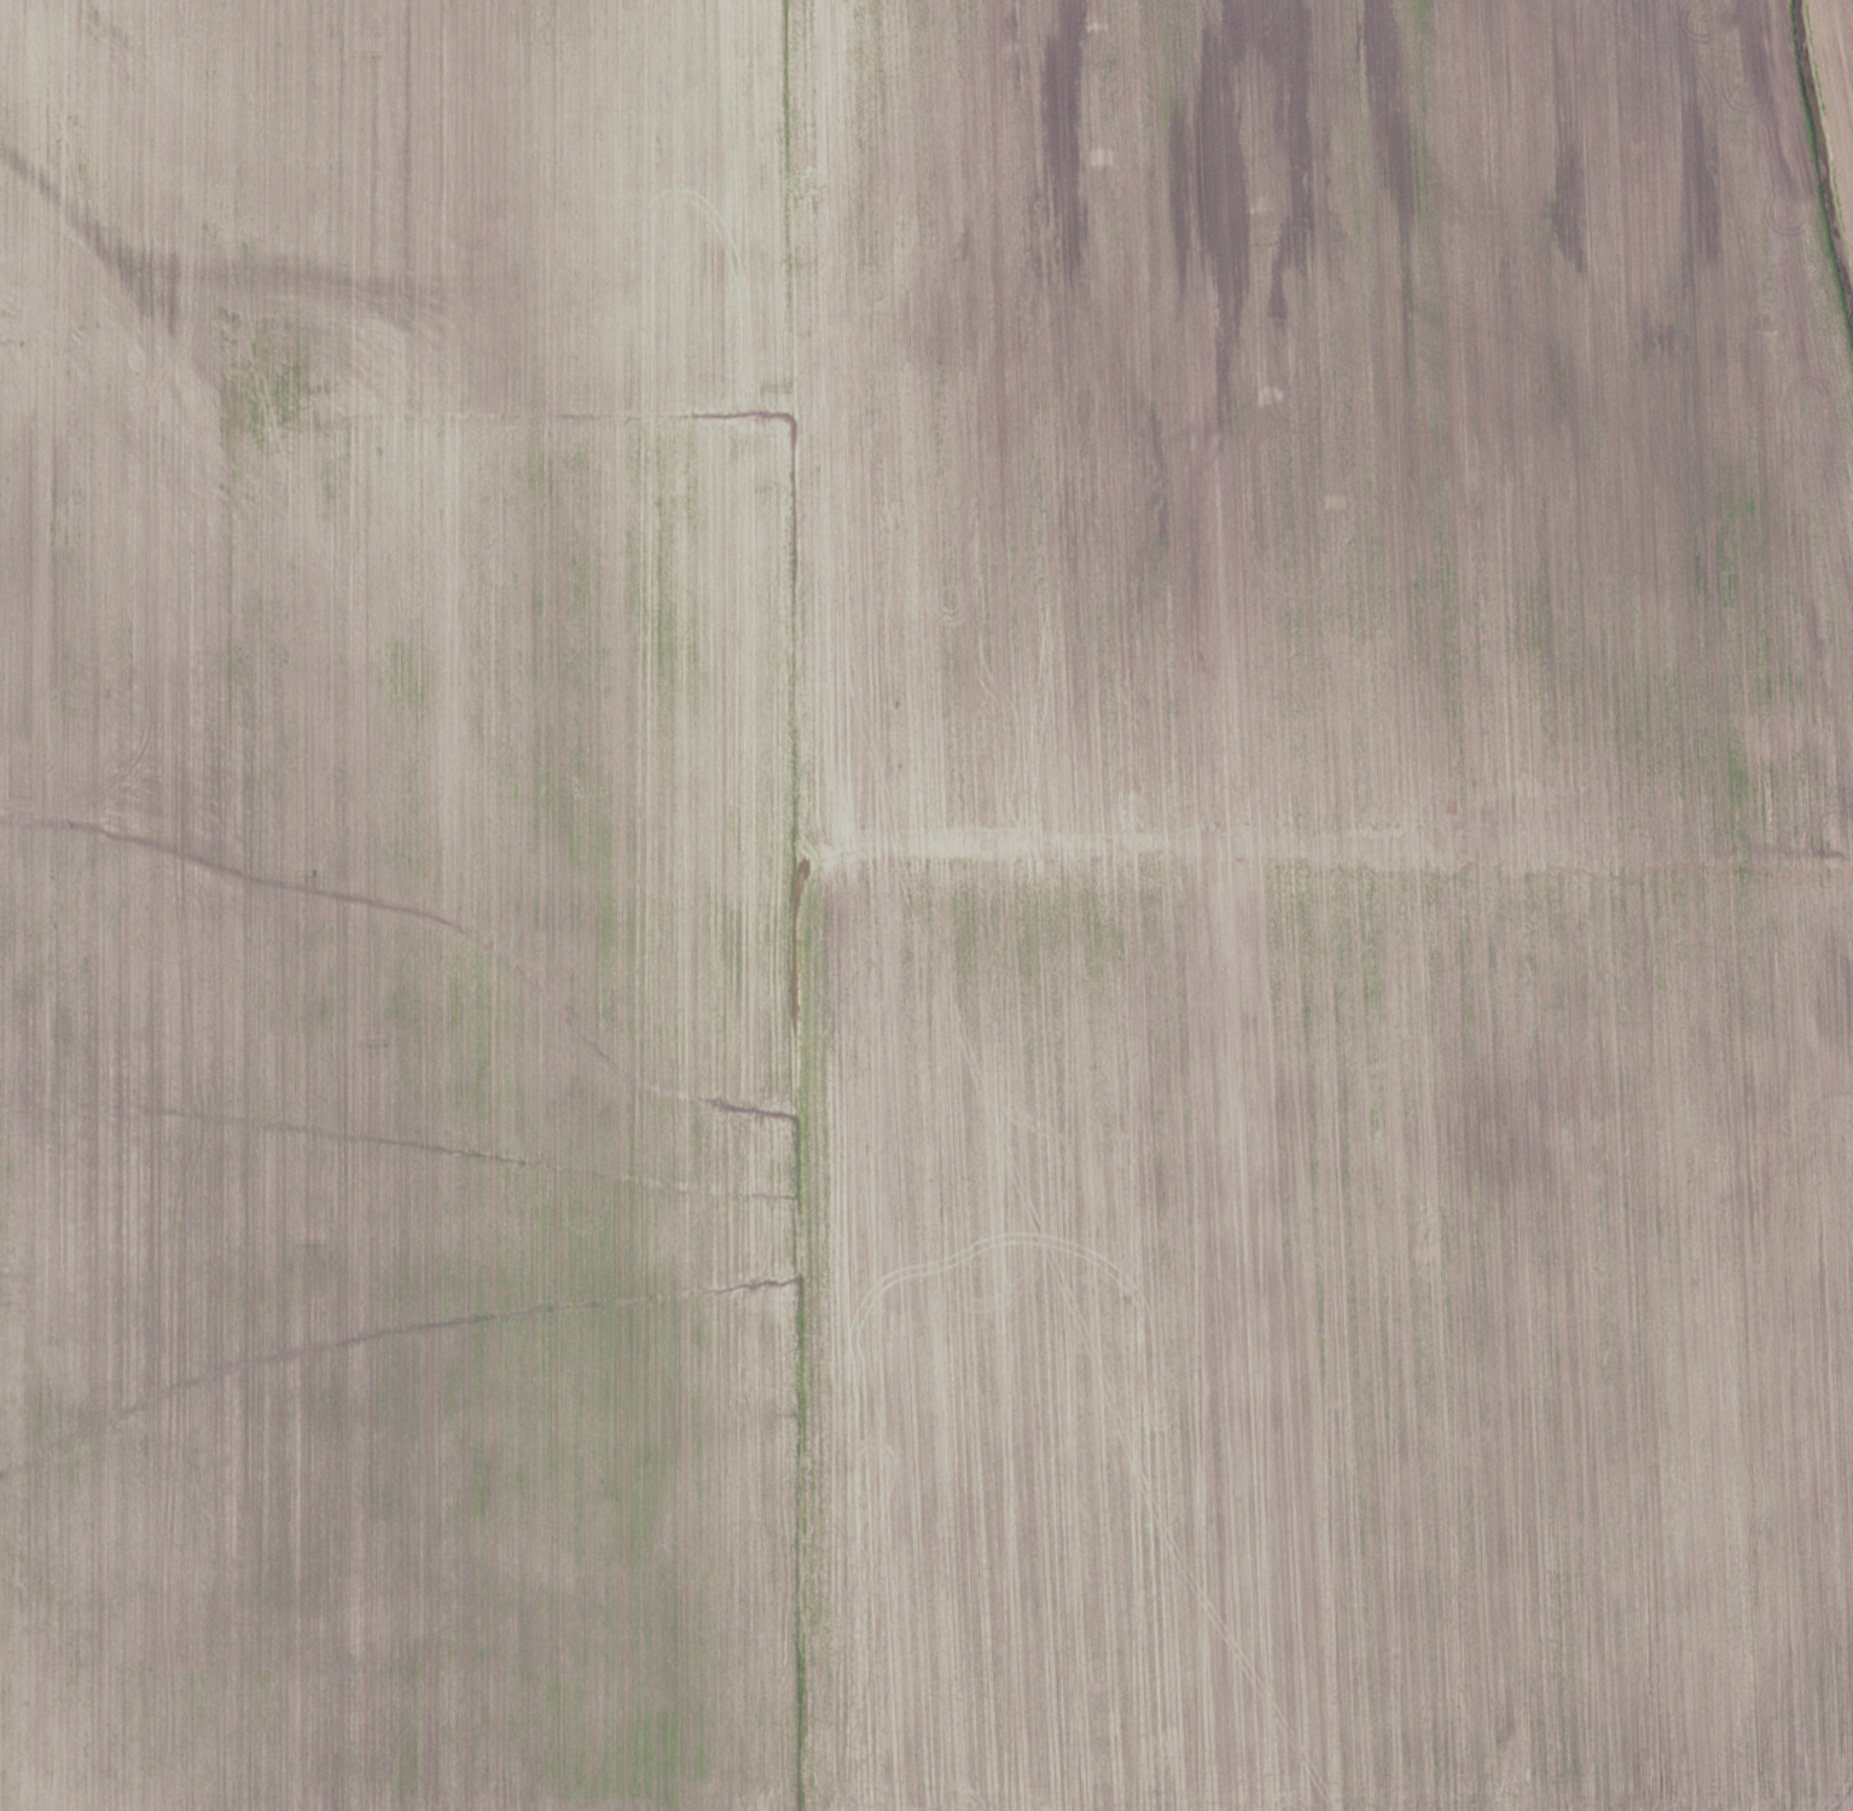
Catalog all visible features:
road: (1822, 163)

